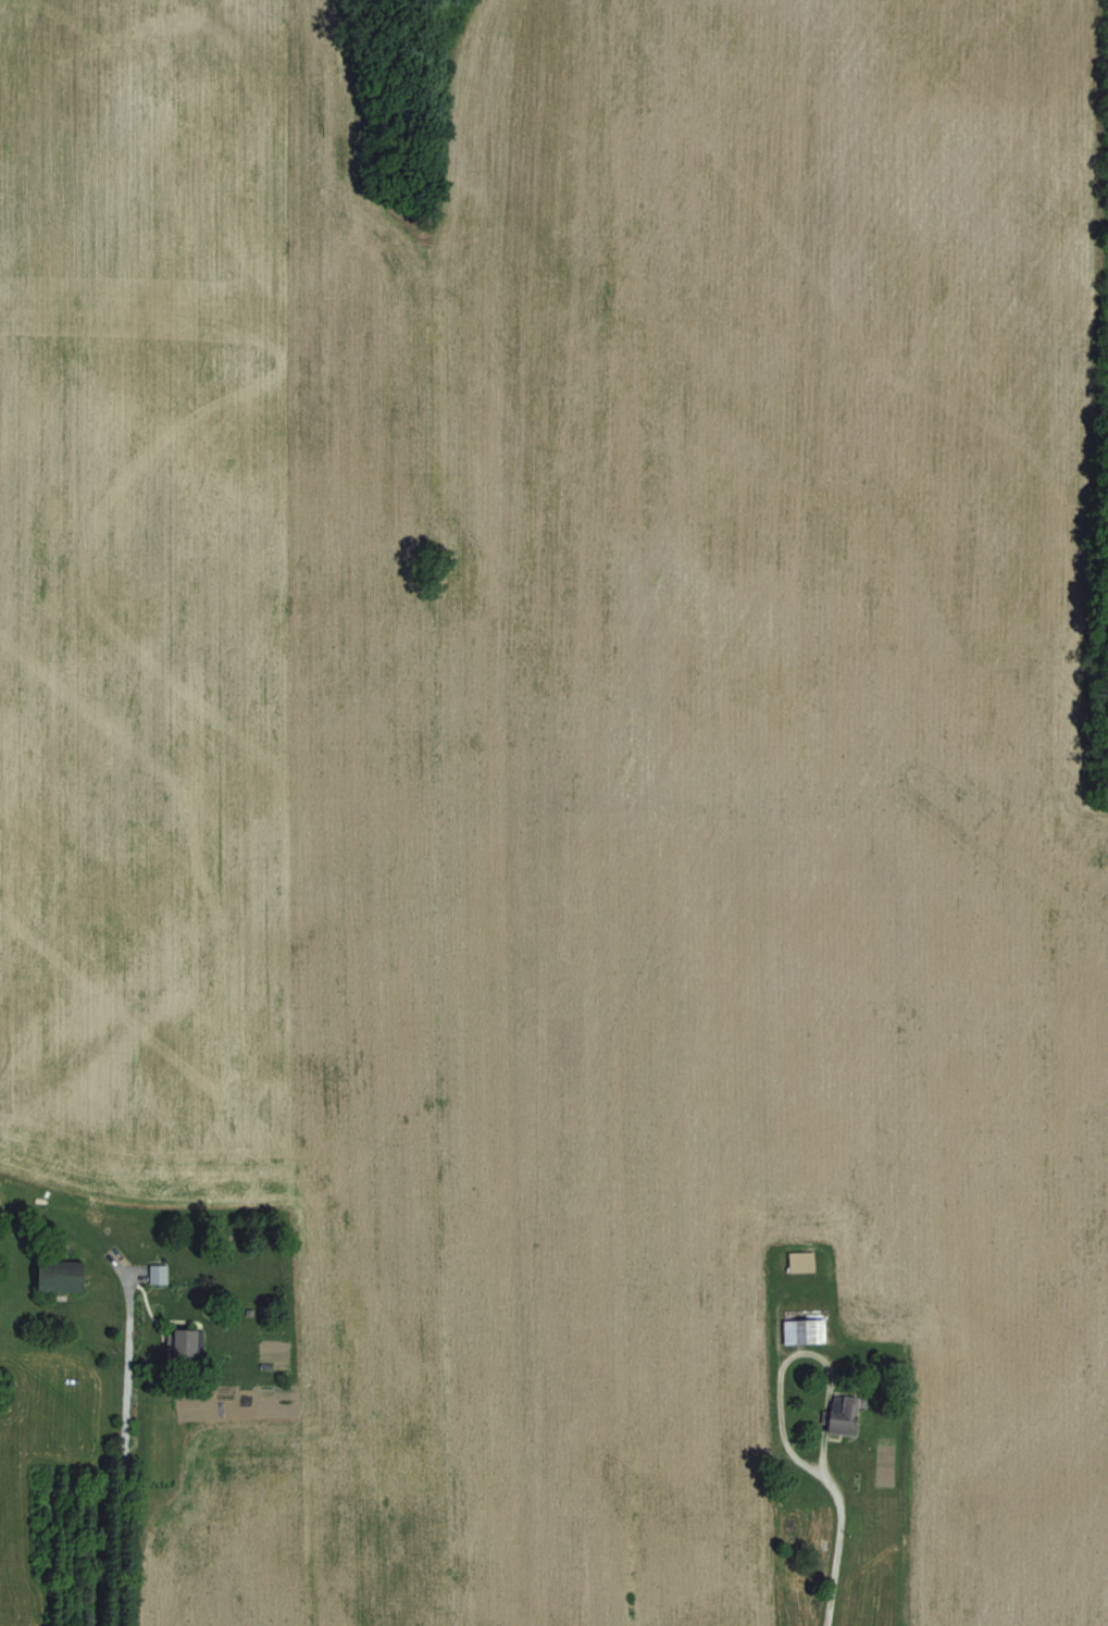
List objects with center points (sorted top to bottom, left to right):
building: (804, 1262)
building: (160, 1273)
building: (65, 1275)
building: (807, 1330)
building: (189, 1343)
building: (847, 1415)
road: (787, 1440)
road: (125, 1455)
road: (842, 1544)

